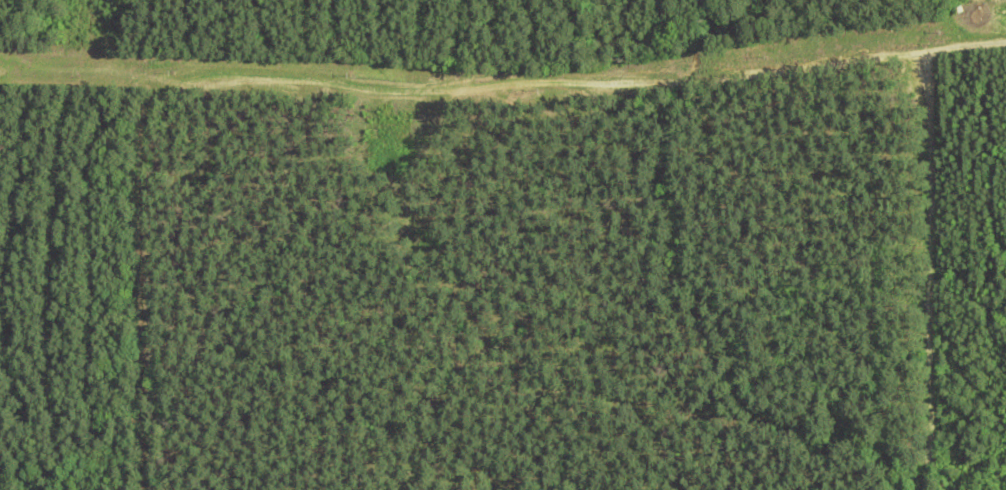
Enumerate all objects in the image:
road: (894, 20)
road: (502, 57)
road: (995, 100)
road: (638, 271)

